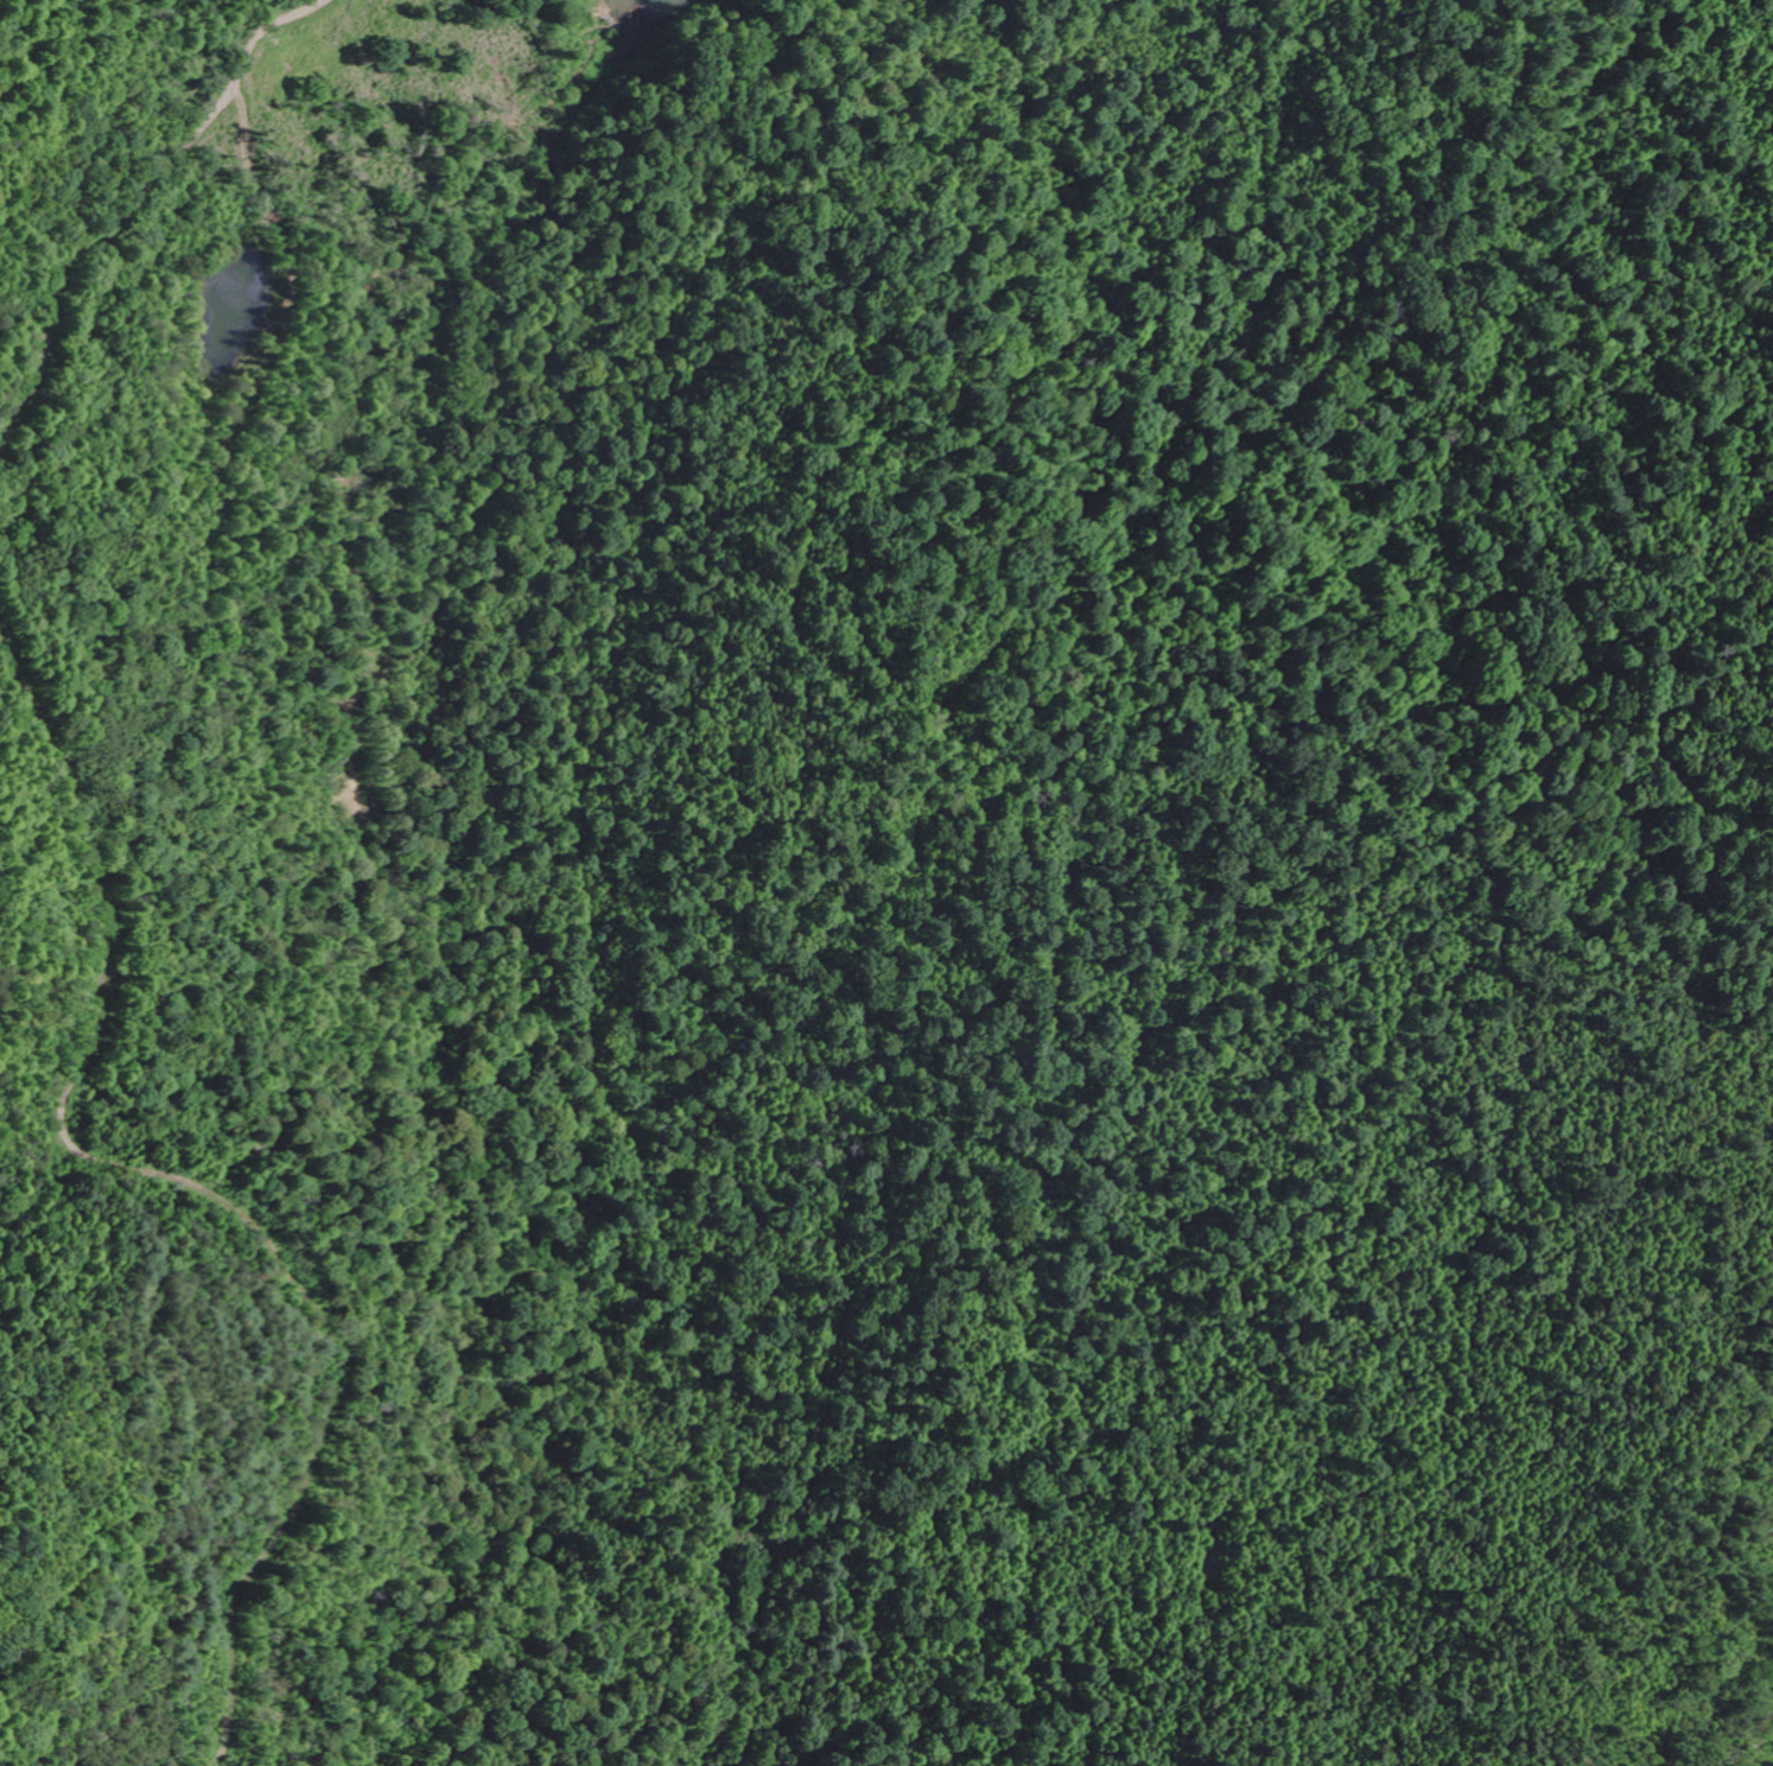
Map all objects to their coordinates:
road: (300, 9)
road: (89, 240)
road: (228, 547)
road: (193, 1182)

